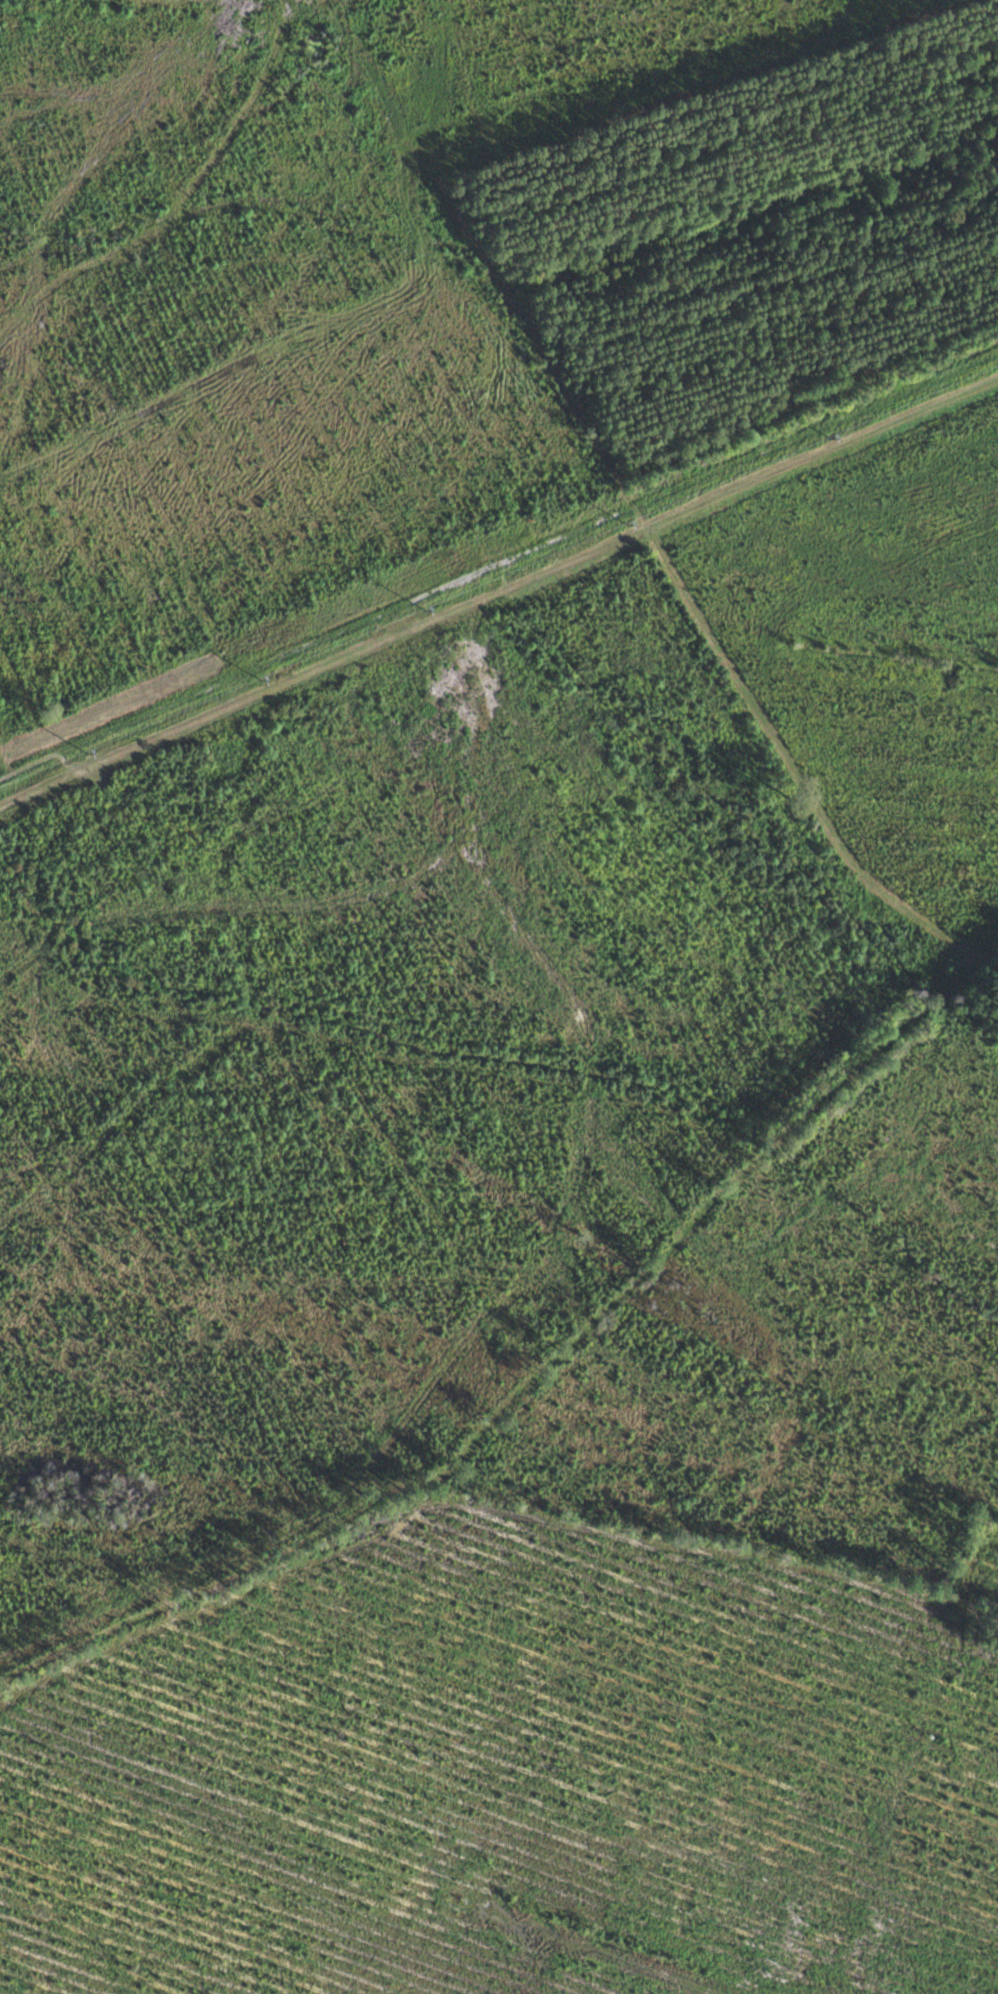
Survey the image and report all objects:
road: (18, 771)

